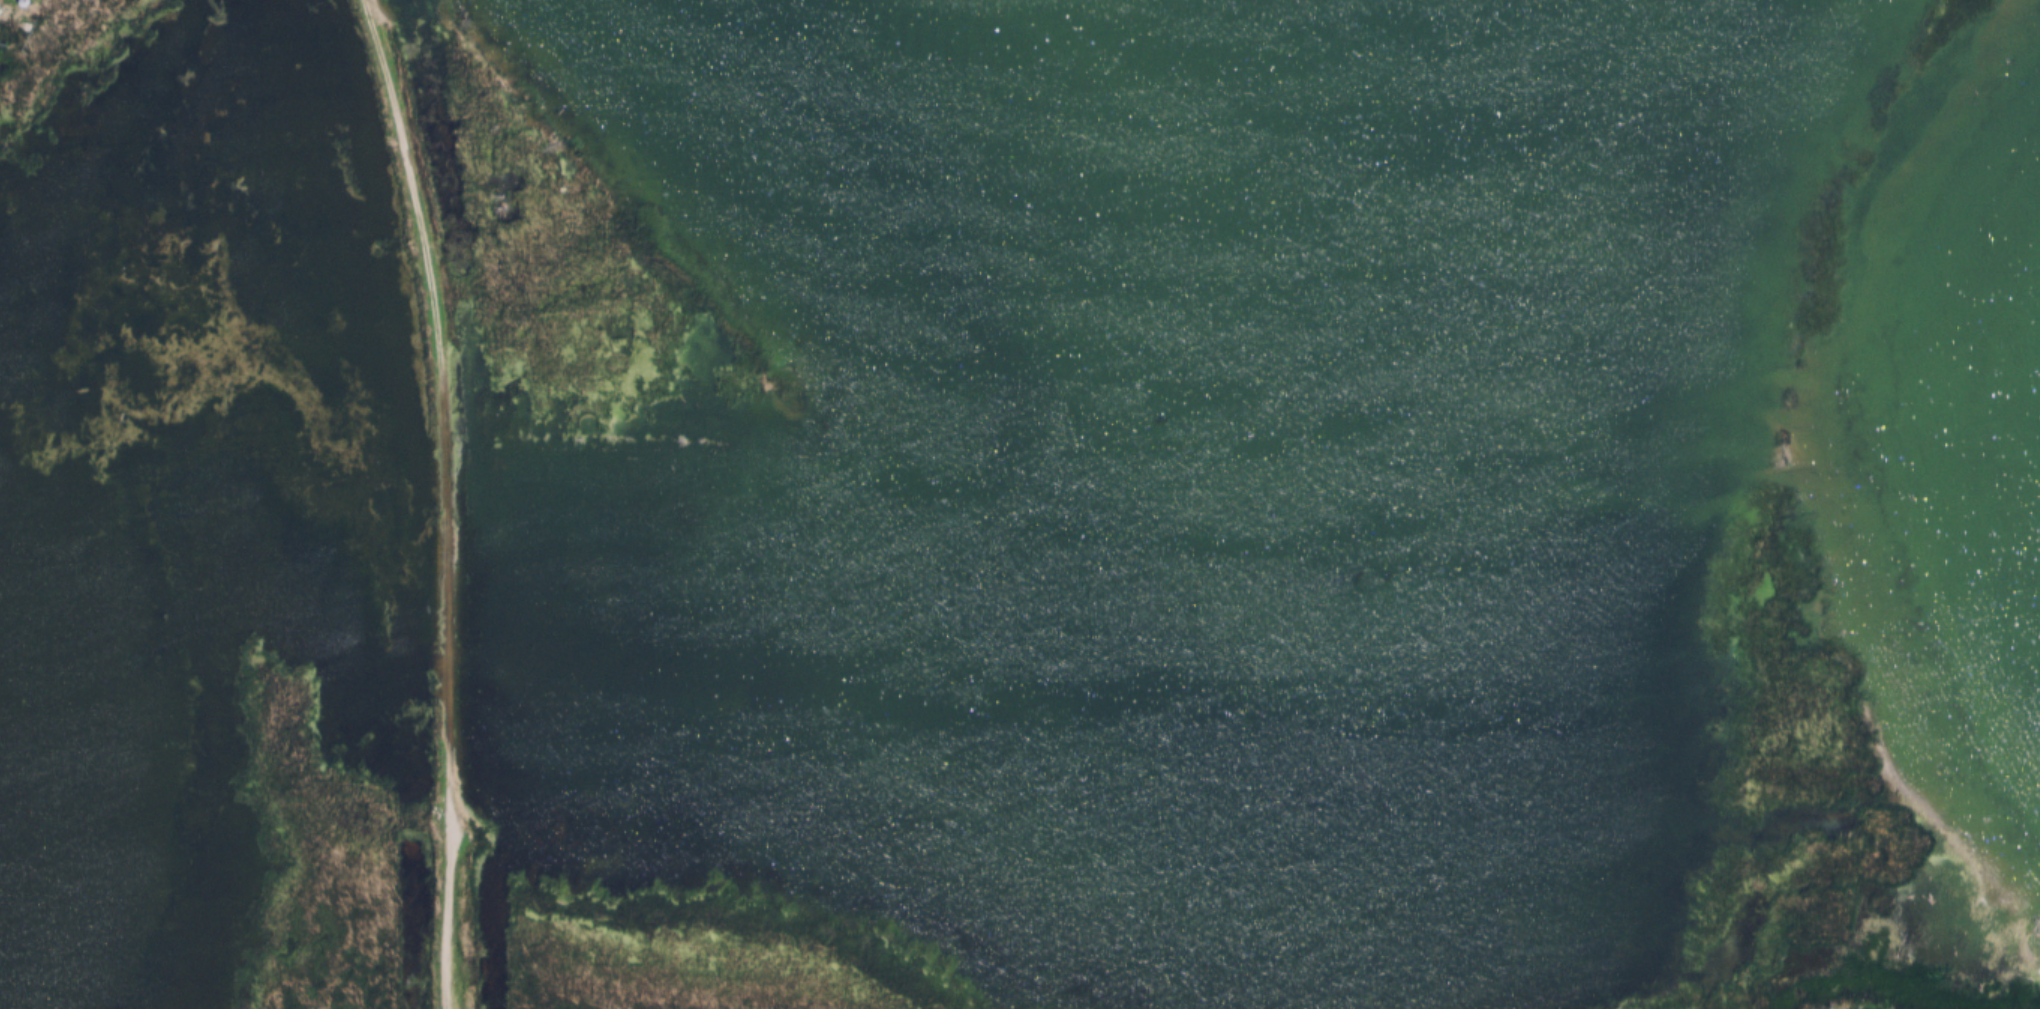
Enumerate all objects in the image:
building: (6, 28)
building: (644, 193)
road: (449, 500)

